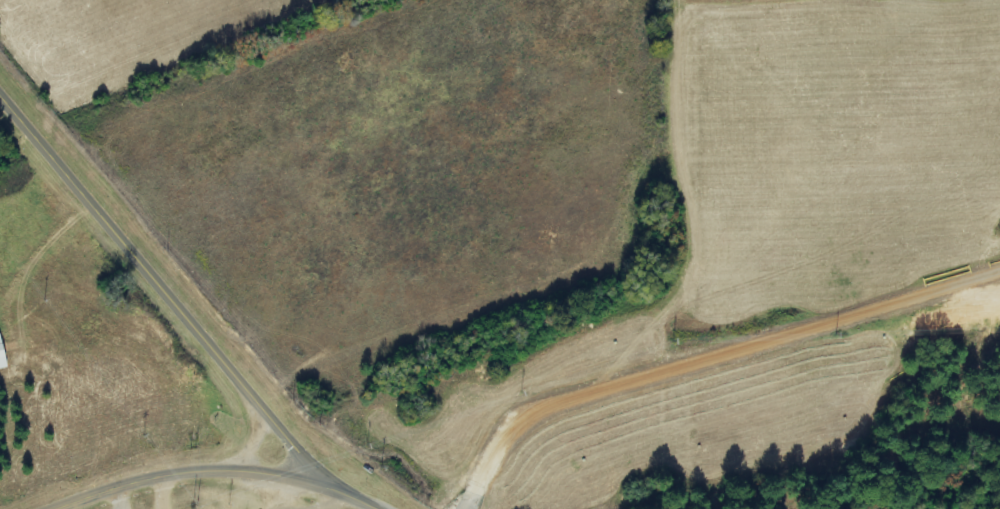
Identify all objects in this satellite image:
road: (165, 291)
building: (2, 357)
road: (214, 471)

